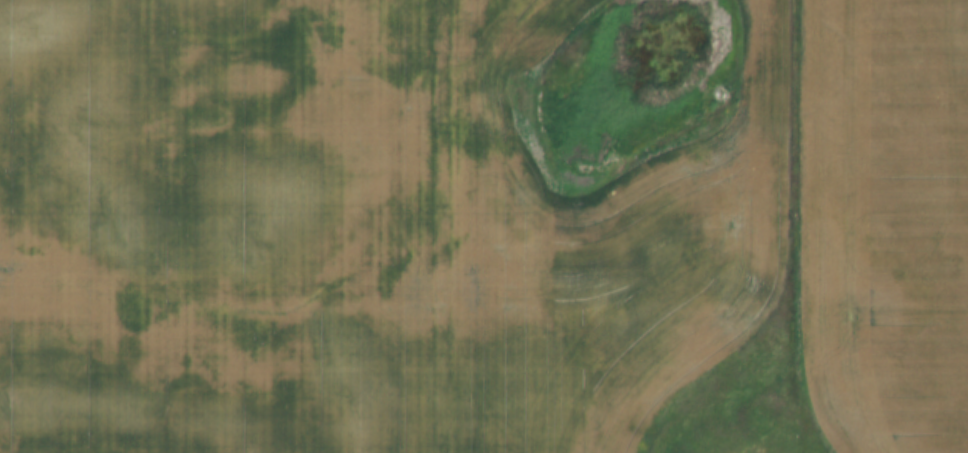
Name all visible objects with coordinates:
road: (805, 228)

